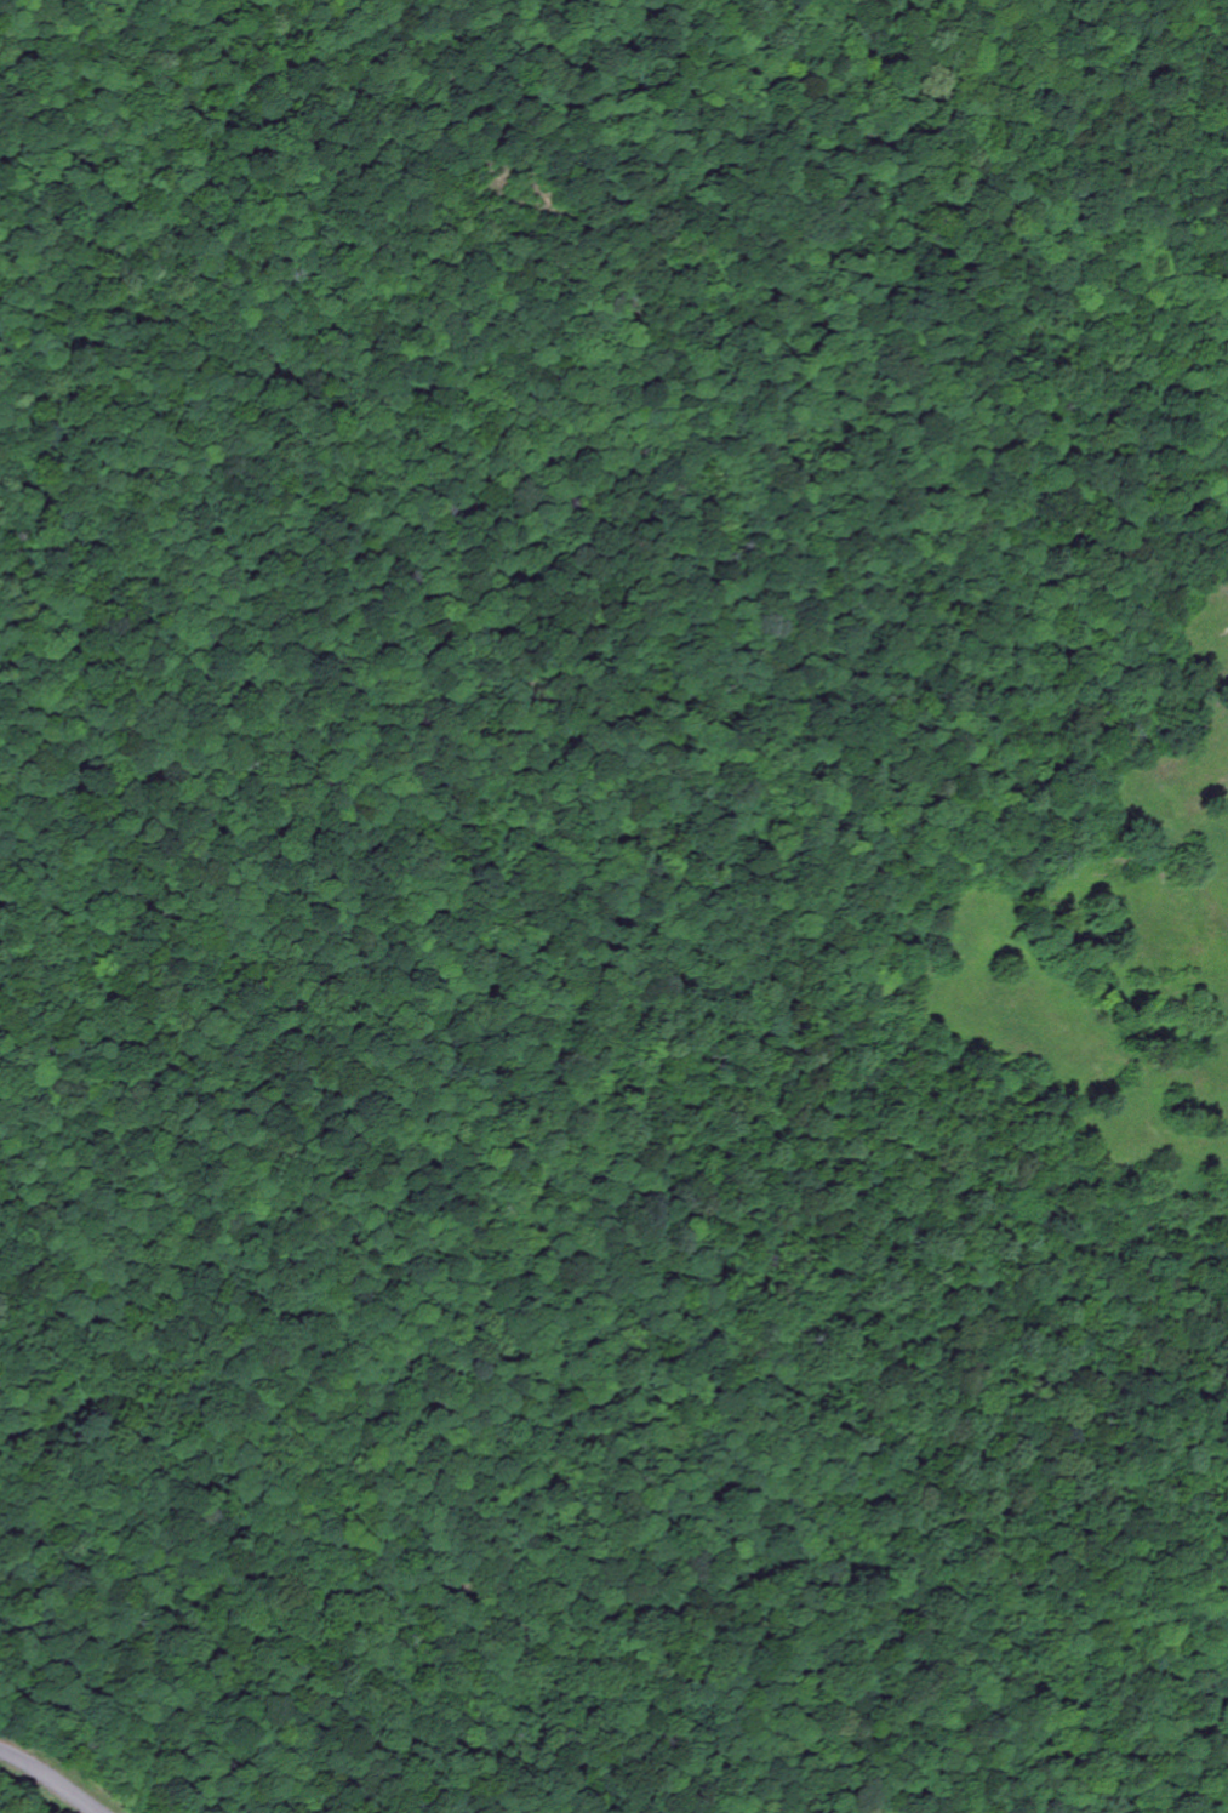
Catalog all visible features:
road: (44, 1784)

